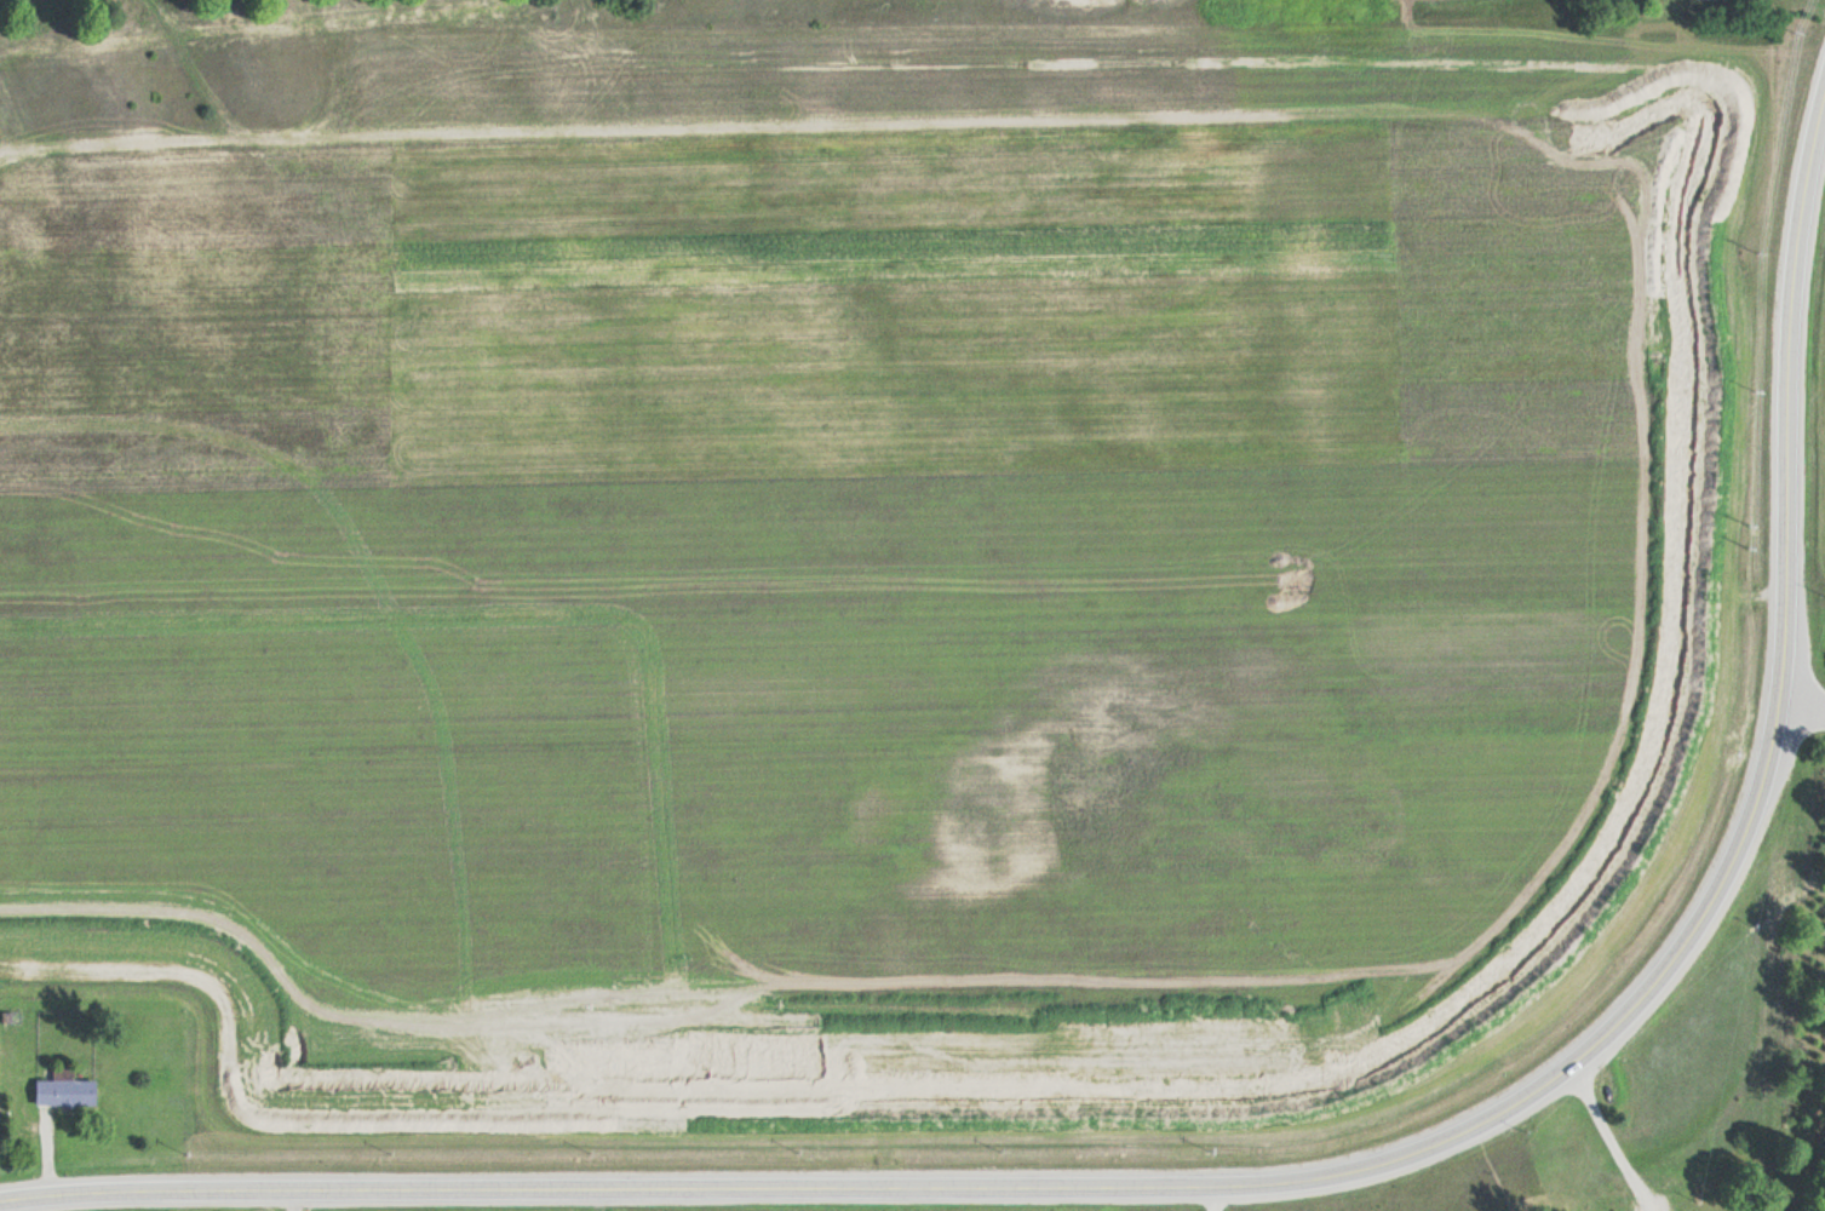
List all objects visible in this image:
airport runway: (804, 678)
road: (1802, 704)
building: (63, 1090)
road: (1316, 1176)

